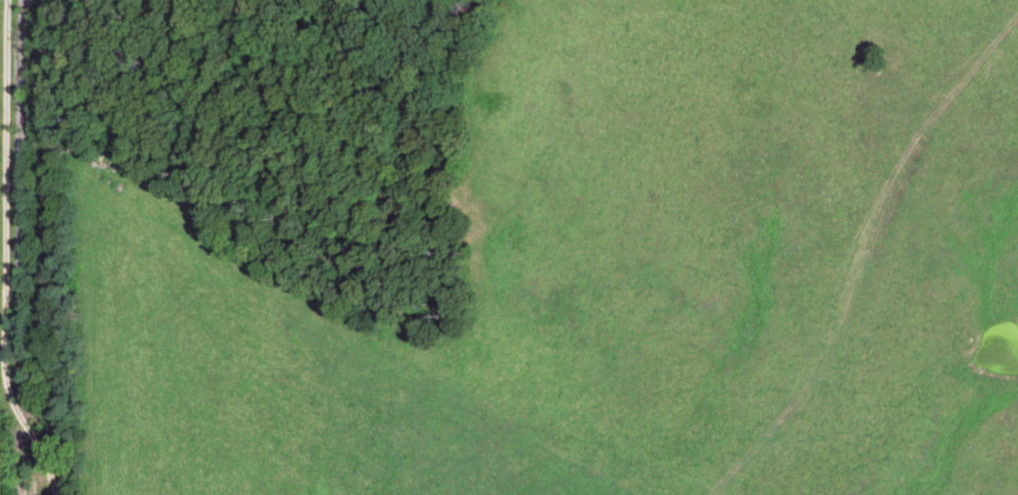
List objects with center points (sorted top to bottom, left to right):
road: (0, 155)
railway: (21, 247)
road: (42, 247)
road: (28, 431)

